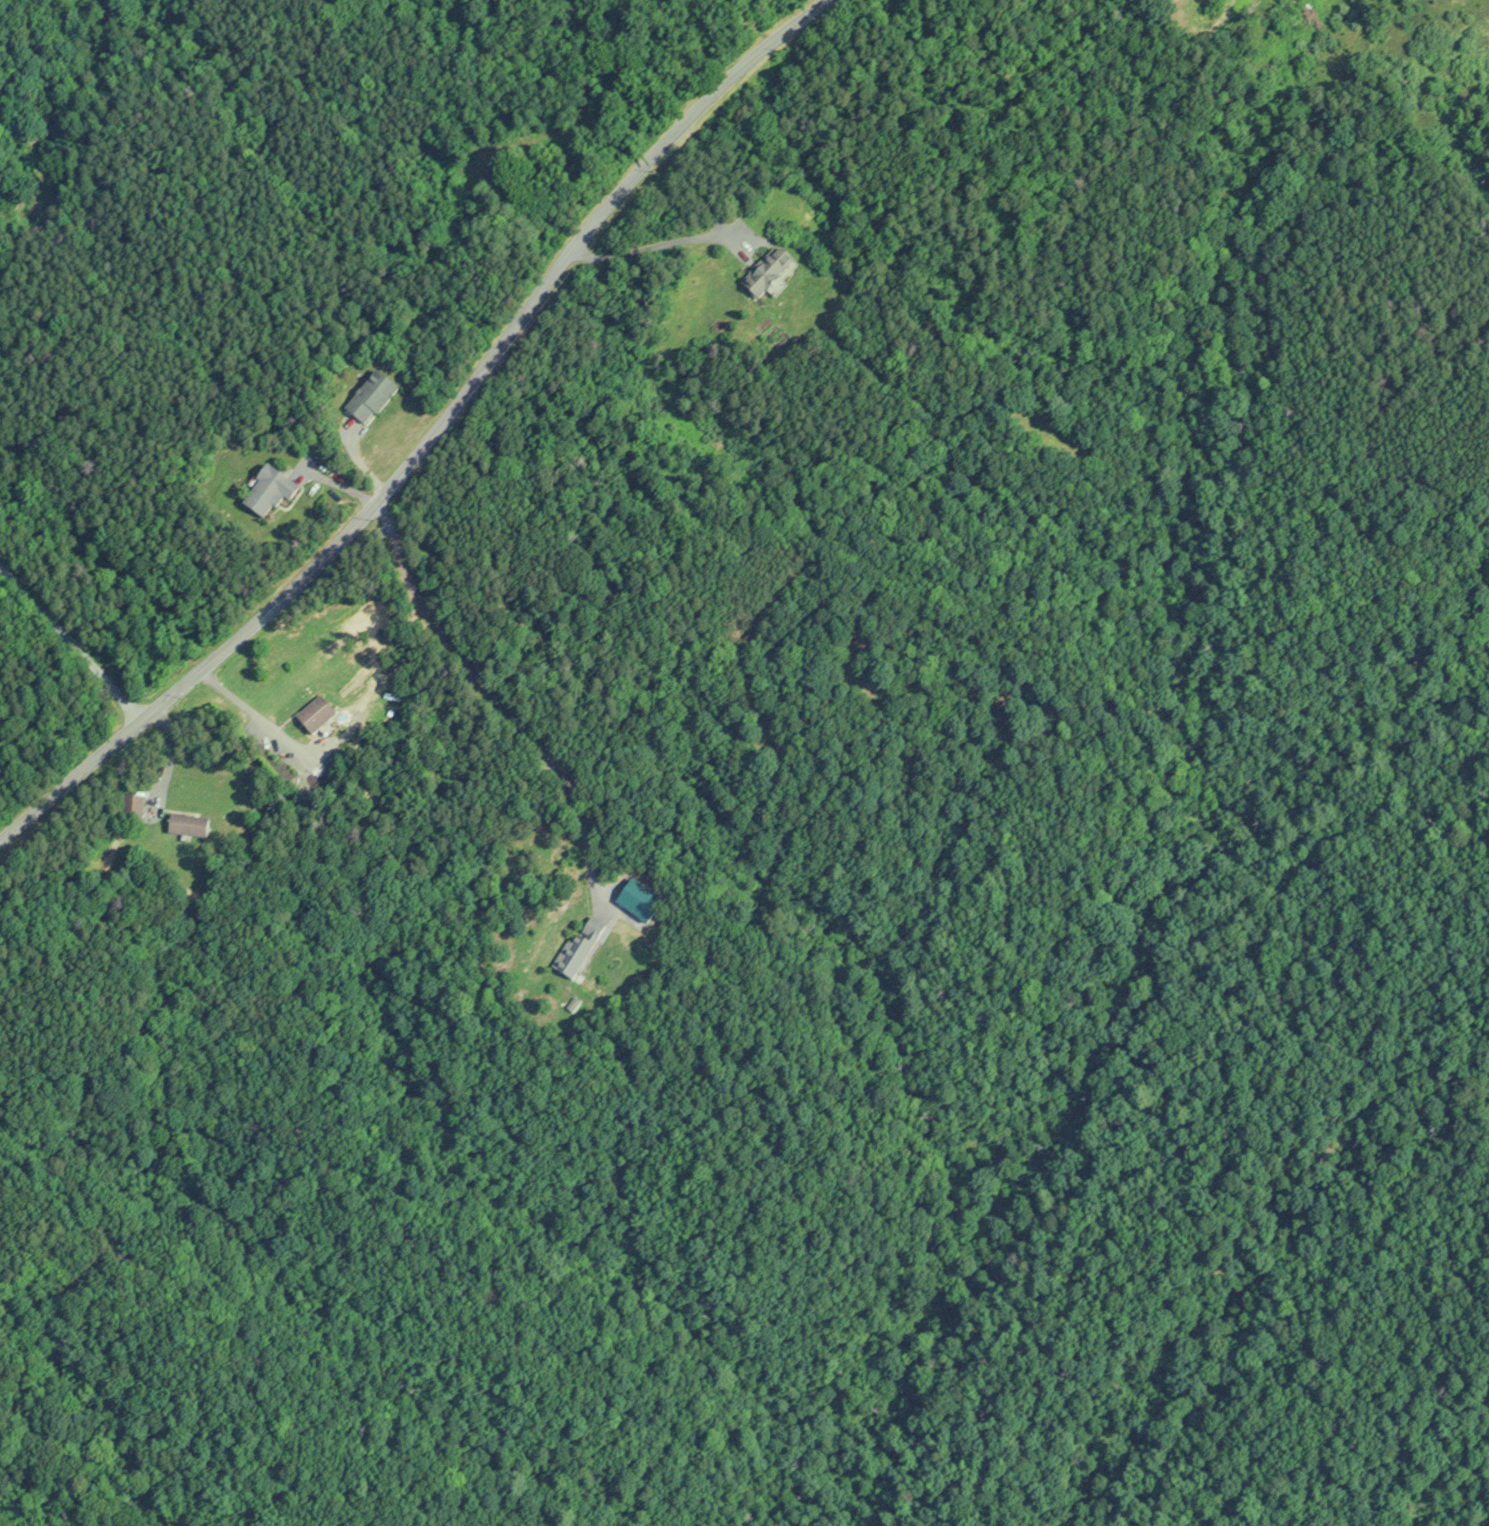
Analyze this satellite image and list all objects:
road: (655, 243)
building: (764, 270)
building: (368, 398)
road: (431, 436)
building: (264, 493)
road: (69, 641)
road: (497, 702)
road: (243, 703)
building: (312, 713)
building: (129, 807)
building: (183, 825)
building: (577, 946)

